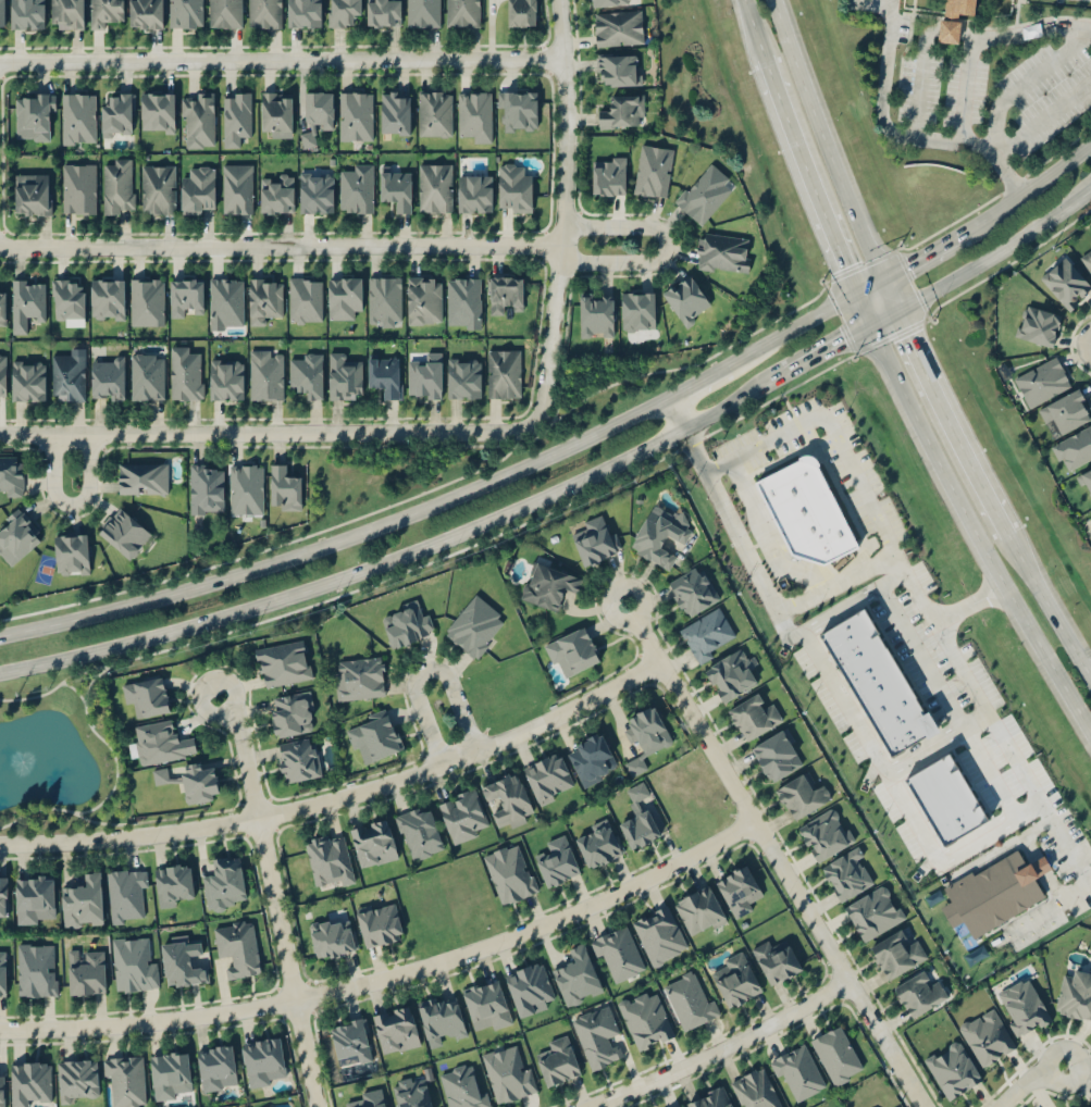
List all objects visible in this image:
building: (608, 2)
road: (873, 2)
road: (866, 3)
building: (1, 12)
building: (104, 12)
building: (343, 12)
building: (383, 12)
building: (521, 12)
building: (26, 13)
building: (67, 13)
building: (146, 13)
building: (185, 13)
building: (225, 13)
building: (264, 13)
building: (303, 13)
building: (423, 13)
building: (462, 13)
building: (953, 18)
building: (618, 27)
road: (751, 28)
road: (1008, 36)
road: (281, 63)
building: (618, 70)
road: (915, 85)
road: (1021, 85)
road: (963, 89)
parking lot: (996, 89)
building: (518, 110)
building: (159, 111)
building: (622, 111)
building: (276, 113)
building: (394, 113)
building: (434, 113)
building: (116, 114)
building: (318, 114)
building: (356, 115)
building: (474, 115)
building: (34, 116)
building: (78, 117)
road: (1040, 117)
building: (236, 119)
building: (198, 120)
road: (879, 120)
road: (819, 140)
building: (653, 171)
road: (1005, 173)
road: (804, 175)
building: (609, 176)
building: (116, 186)
building: (434, 187)
road: (1005, 187)
building: (78, 188)
building: (237, 188)
building: (395, 188)
building: (514, 188)
road: (1030, 188)
building: (158, 189)
building: (357, 189)
building: (197, 190)
building: (314, 192)
building: (474, 192)
building: (32, 194)
building: (276, 194)
building: (704, 194)
road: (561, 213)
road: (611, 226)
road: (278, 245)
building: (1089, 245)
building: (722, 252)
road: (920, 253)
road: (1019, 254)
road: (981, 256)
traffic signals: (908, 261)
building: (1088, 261)
road: (618, 262)
traffic signals: (842, 266)
building: (1065, 283)
building: (505, 293)
building: (185, 296)
road: (883, 296)
building: (345, 297)
building: (108, 298)
building: (67, 299)
building: (685, 299)
building: (264, 300)
building: (305, 300)
building: (384, 300)
building: (422, 300)
building: (146, 301)
building: (463, 301)
building: (225, 302)
building: (26, 303)
building: (2, 308)
building: (637, 310)
building: (596, 314)
building: (1037, 324)
traffic signals: (903, 336)
traffic signals: (841, 340)
road: (827, 348)
building: (185, 373)
building: (503, 373)
building: (2, 374)
building: (69, 374)
building: (384, 374)
building: (265, 375)
building: (307, 375)
building: (146, 376)
building: (344, 376)
building: (425, 376)
building: (108, 377)
building: (463, 378)
building: (27, 380)
building: (227, 381)
building: (1041, 381)
building: (1065, 411)
road: (945, 424)
road: (829, 425)
road: (265, 436)
building: (1074, 449)
building: (10, 476)
building: (142, 477)
building: (1086, 483)
building: (206, 488)
building: (285, 488)
building: (245, 489)
road: (454, 497)
road: (67, 506)
building: (806, 511)
road: (964, 518)
building: (123, 532)
road: (771, 532)
building: (659, 534)
building: (17, 536)
building: (596, 539)
building: (72, 553)
road: (405, 555)
building: (548, 585)
building: (692, 589)
road: (853, 600)
road: (796, 602)
road: (1046, 608)
building: (406, 624)
building: (474, 625)
road: (786, 630)
building: (707, 633)
building: (848, 636)
building: (572, 650)
building: (864, 661)
building: (283, 662)
road: (426, 670)
building: (730, 674)
building: (359, 677)
building: (877, 683)
building: (146, 694)
building: (887, 699)
road: (946, 700)
road: (845, 701)
building: (292, 712)
building: (894, 712)
building: (753, 716)
building: (900, 721)
building: (909, 734)
building: (374, 735)
building: (645, 736)
road: (934, 739)
building: (160, 742)
building: (777, 754)
road: (244, 755)
road: (1011, 755)
building: (591, 758)
building: (298, 759)
fountain: (17, 762)
building: (160, 774)
building: (548, 776)
building: (197, 782)
building: (802, 794)
road: (342, 797)
building: (507, 798)
building: (947, 798)
building: (462, 814)
road: (913, 817)
building: (637, 818)
road: (989, 831)
building: (418, 832)
building: (825, 833)
building: (373, 842)
building: (598, 843)
road: (774, 857)
building: (328, 859)
building: (557, 860)
building: (510, 872)
building: (847, 873)
building: (223, 882)
building: (174, 883)
building: (739, 890)
building: (993, 892)
building: (125, 893)
building: (3, 896)
building: (33, 896)
building: (82, 899)
road: (1044, 906)
building: (699, 910)
building: (873, 911)
building: (379, 922)
building: (659, 933)
building: (333, 936)
building: (237, 946)
building: (618, 951)
building: (895, 954)
building: (182, 960)
building: (776, 960)
road: (284, 962)
building: (133, 963)
building: (37, 968)
building: (86, 970)
building: (2, 972)
building: (577, 975)
road: (390, 978)
building: (735, 979)
building: (530, 987)
building: (919, 992)
building: (1075, 995)
building: (689, 999)
building: (485, 1005)
building: (1024, 1006)
building: (441, 1018)
building: (645, 1018)
building: (396, 1029)
building: (597, 1035)
building: (987, 1036)
building: (350, 1038)
road: (718, 1052)
building: (835, 1053)
building: (263, 1060)
building: (558, 1060)
building: (216, 1067)
building: (952, 1068)
building: (797, 1070)
building: (508, 1072)
building: (170, 1073)
building: (77, 1079)
building: (126, 1080)
building: (29, 1081)
road: (1026, 1081)
building: (462, 1085)
building: (754, 1089)
building: (1, 1090)
building: (411, 1092)
building: (365, 1098)
building: (710, 1098)
building: (677, 1105)

